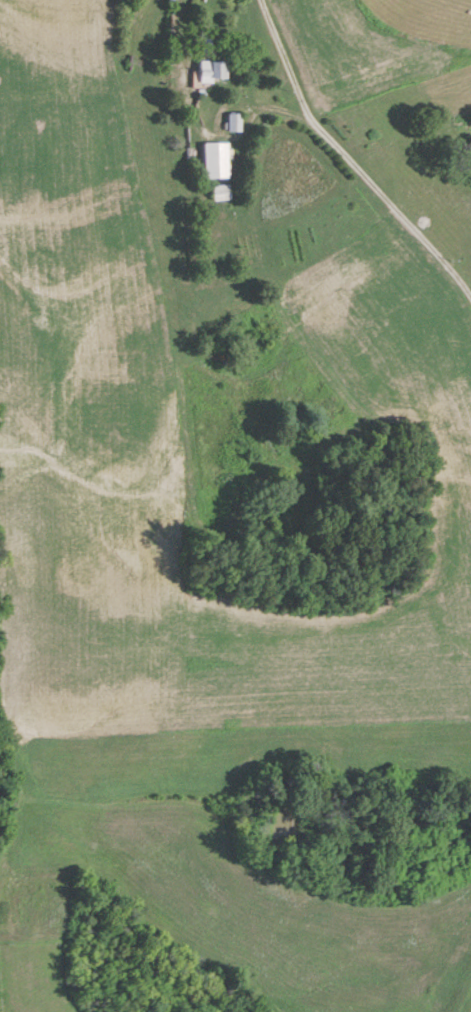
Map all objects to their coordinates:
building: (213, 71)
building: (234, 122)
building: (215, 160)
road: (347, 162)
building: (220, 192)

